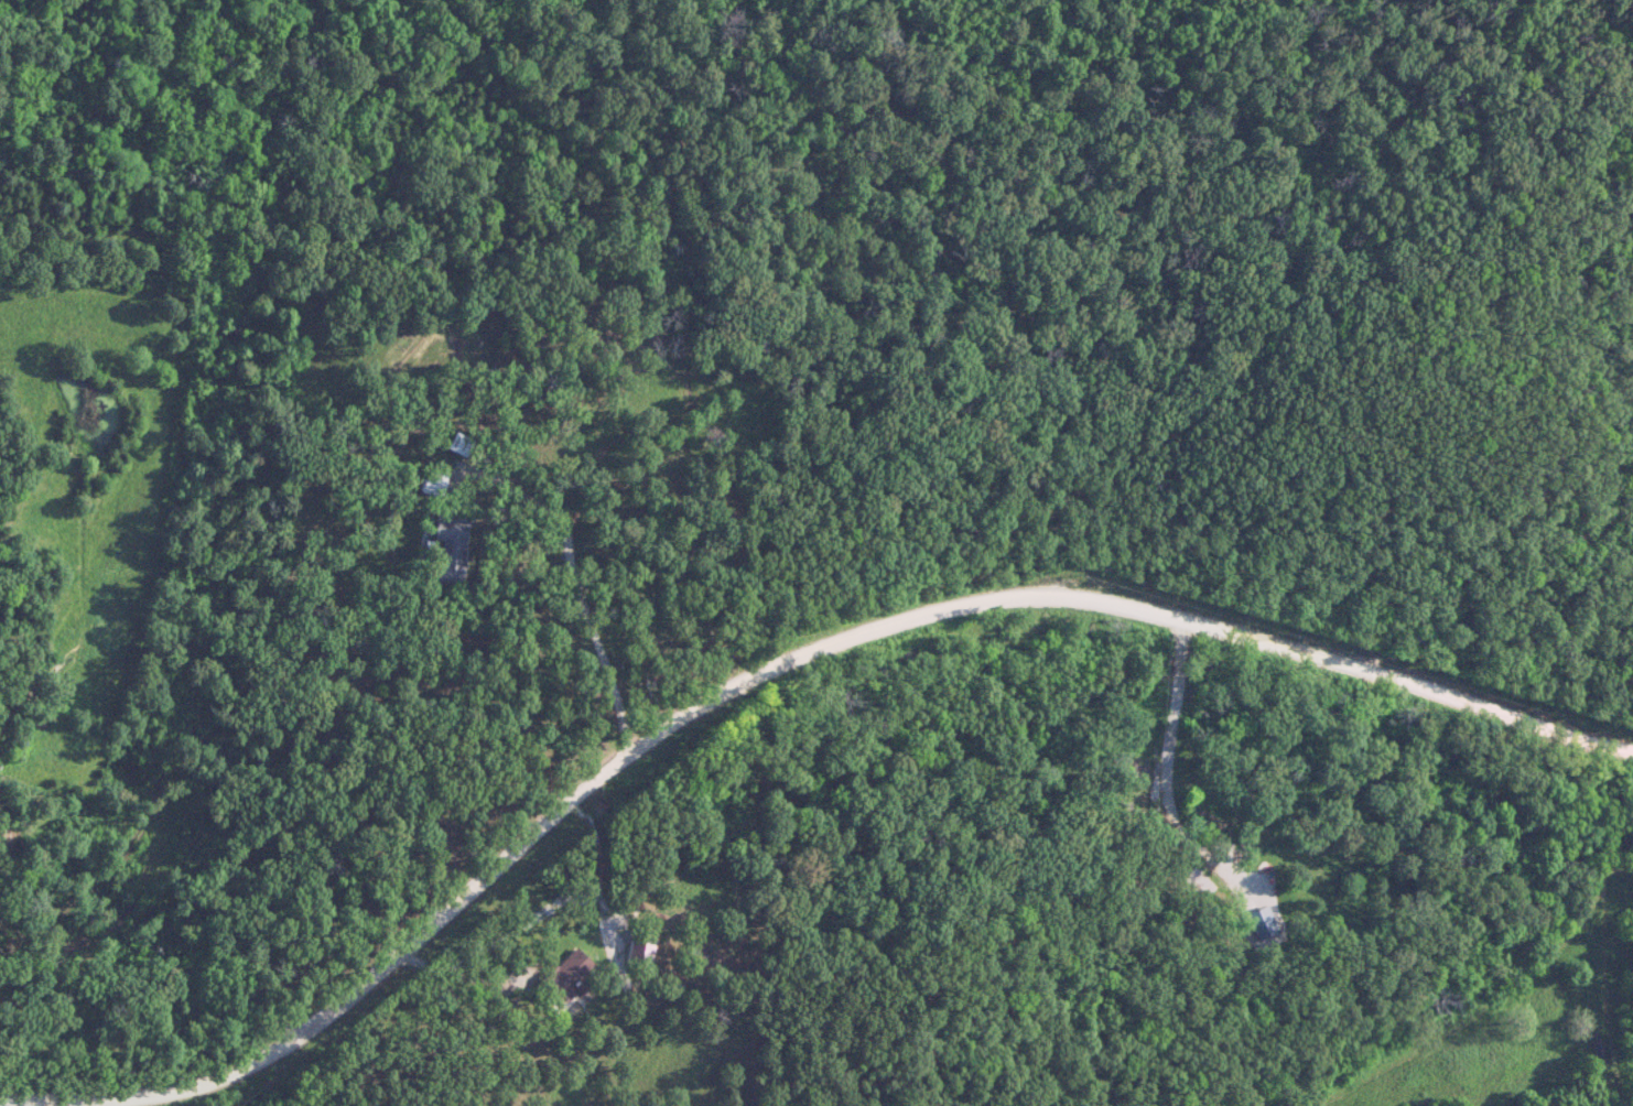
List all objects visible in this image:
building: (452, 549)
road: (580, 592)
road: (764, 669)
building: (1171, 767)
building: (642, 946)
building: (572, 974)

